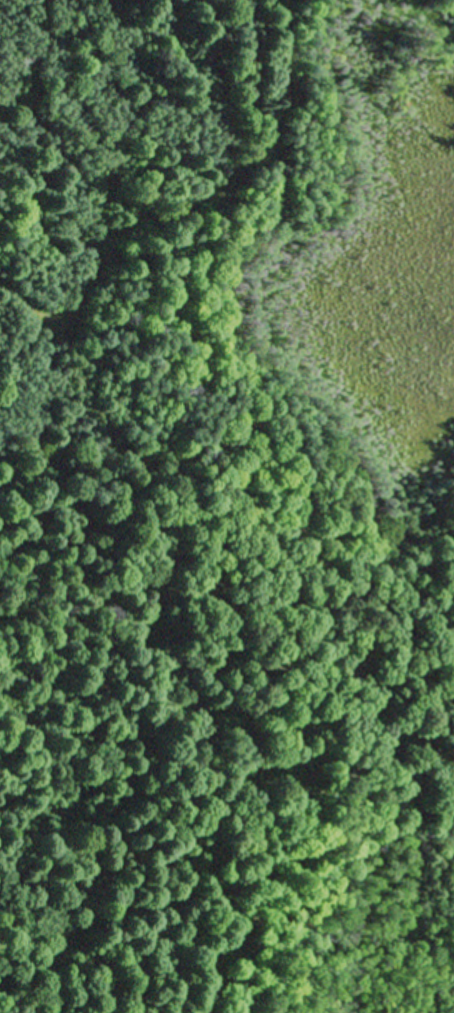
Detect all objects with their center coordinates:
road: (204, 165)
road: (114, 637)
road: (292, 788)

